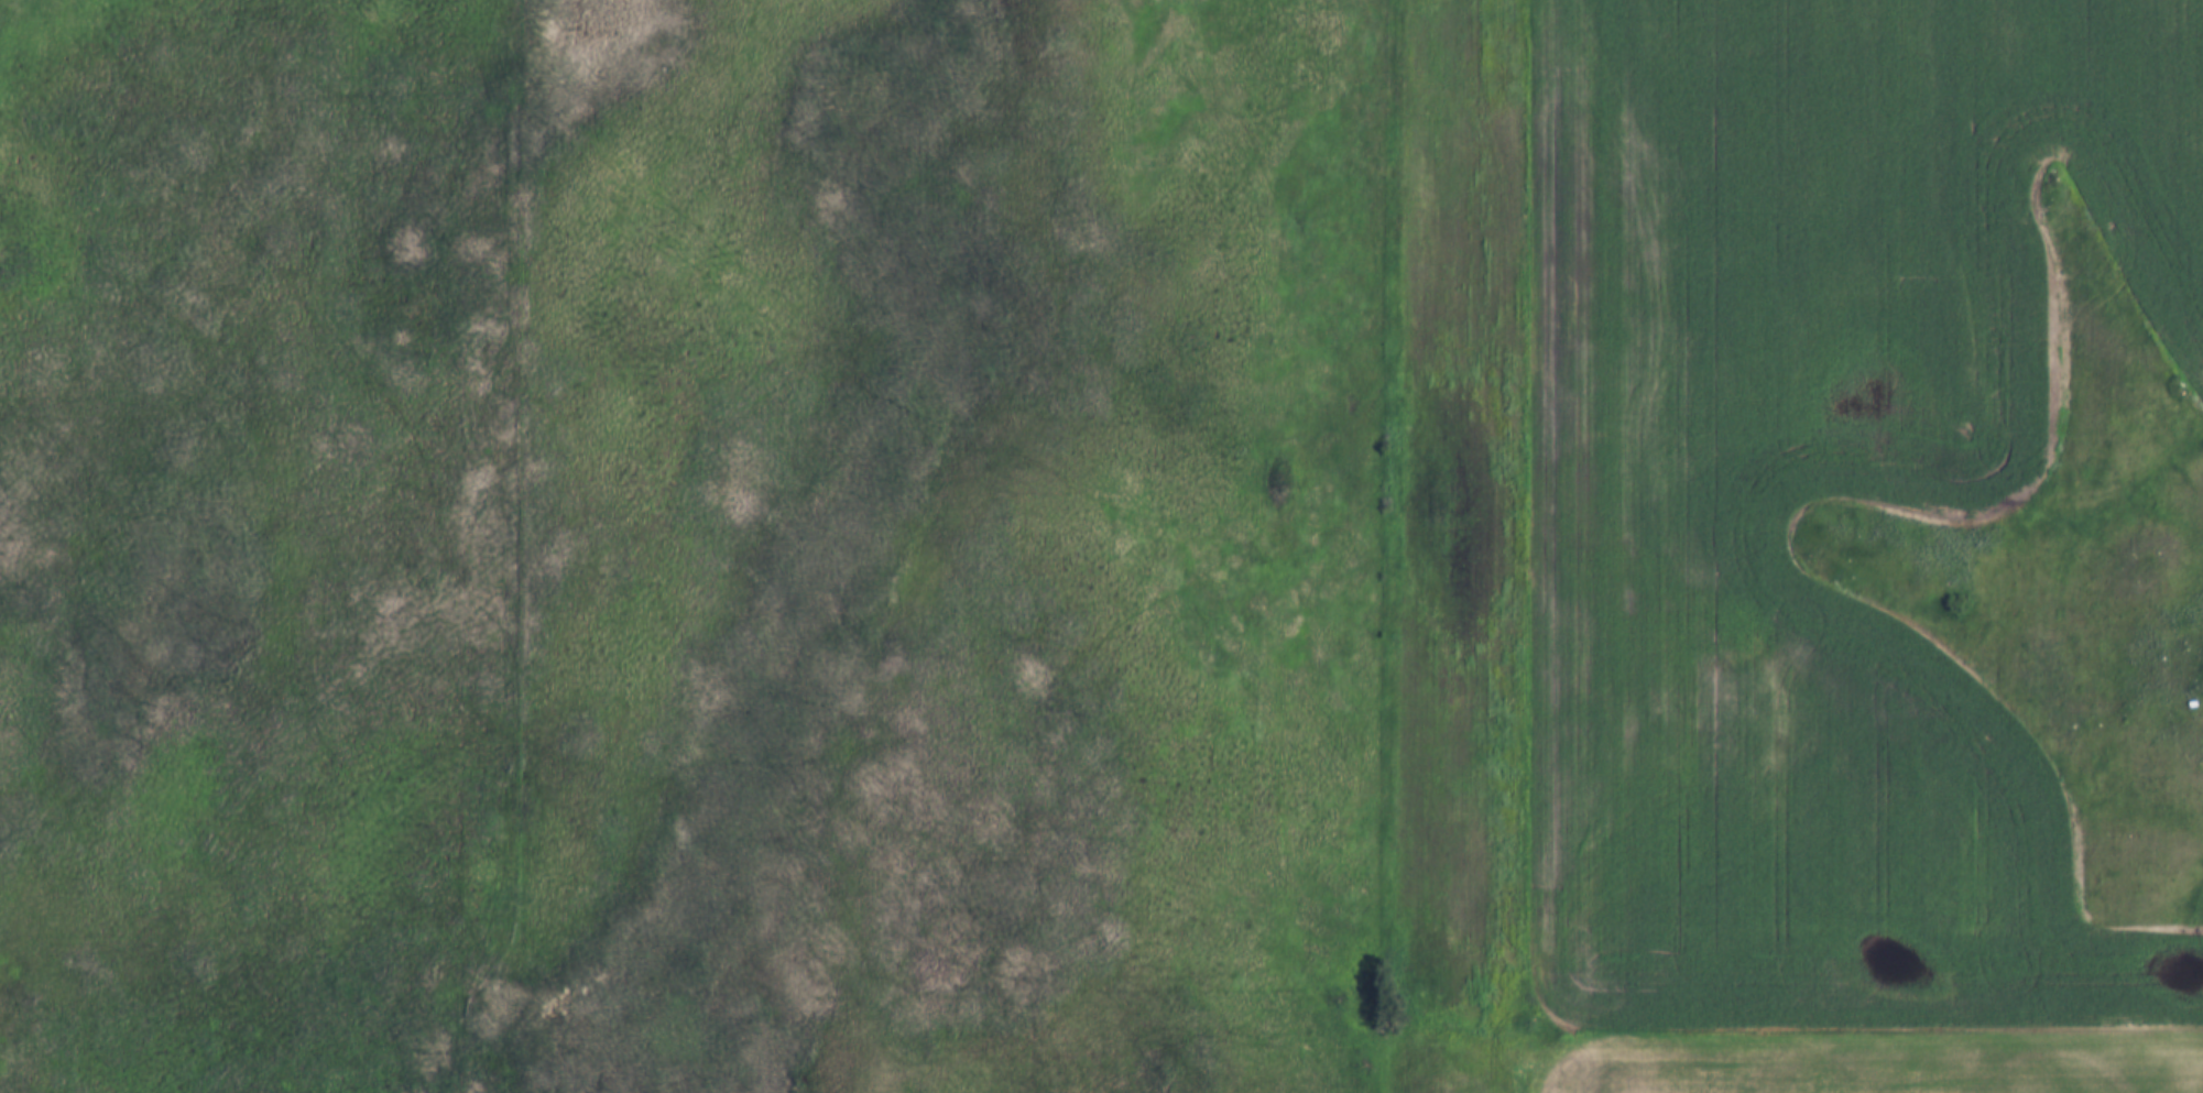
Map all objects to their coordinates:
road: (1960, 1017)

